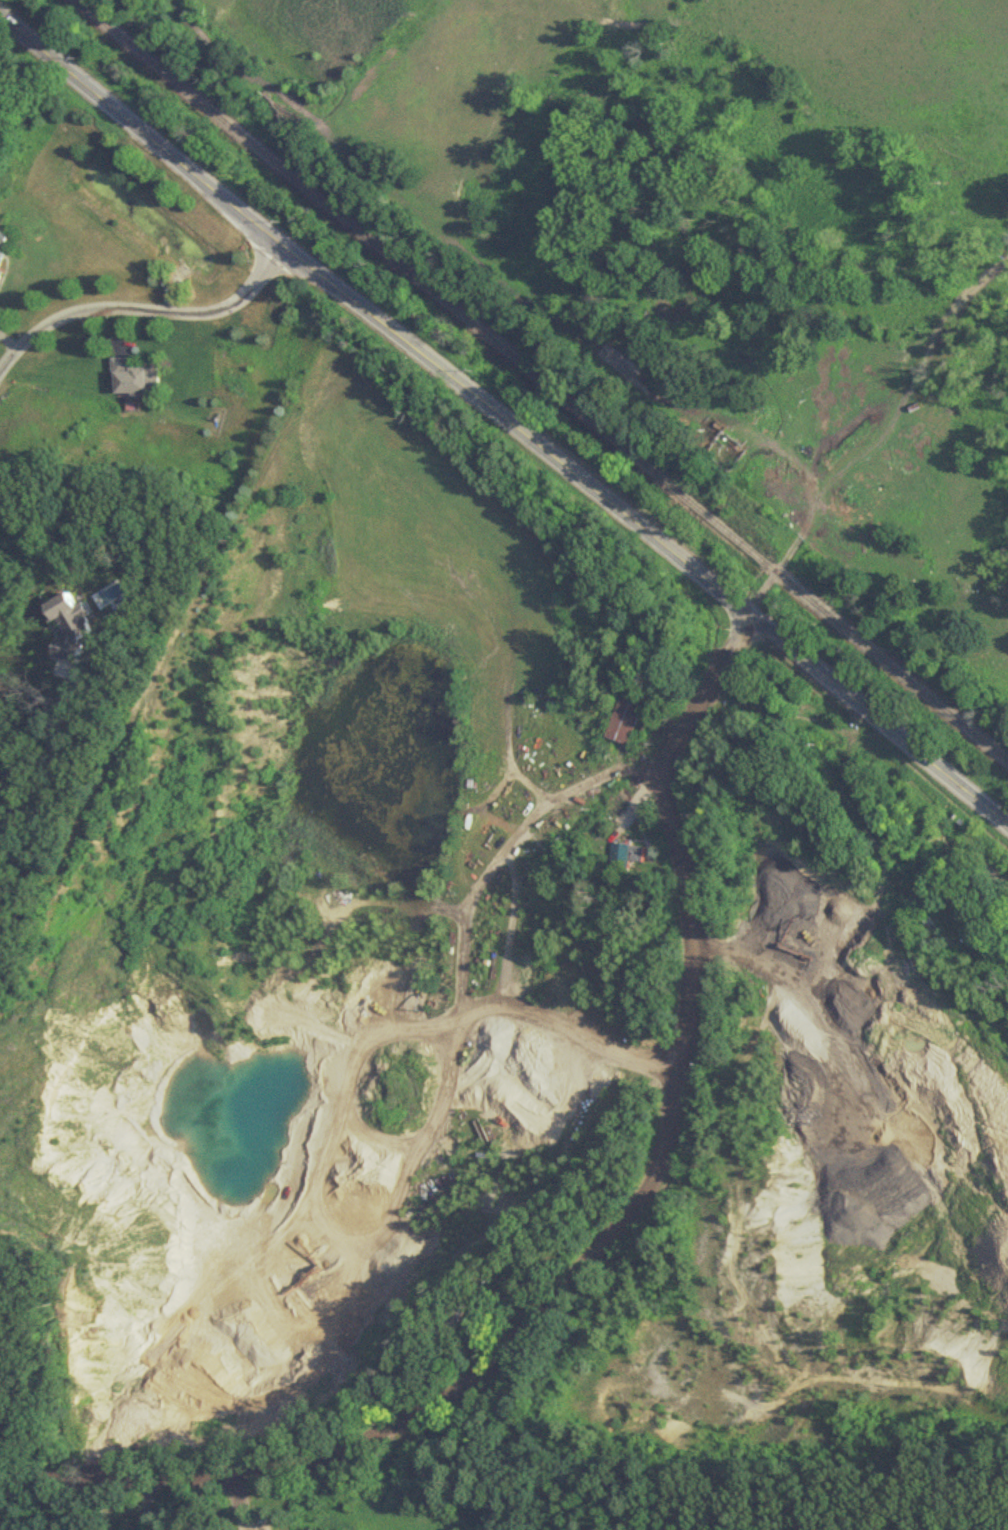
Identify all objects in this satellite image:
building: (5, 247)
road: (151, 309)
railway: (544, 377)
building: (132, 378)
road: (505, 417)
building: (724, 454)
road: (809, 510)
road: (12, 680)
building: (621, 722)
road: (602, 776)
road: (643, 791)
building: (626, 858)
road: (596, 1246)
building: (446, 1320)
road: (143, 1504)
road: (239, 1505)
park: (610, 1513)
parking lot: (267, 1528)

